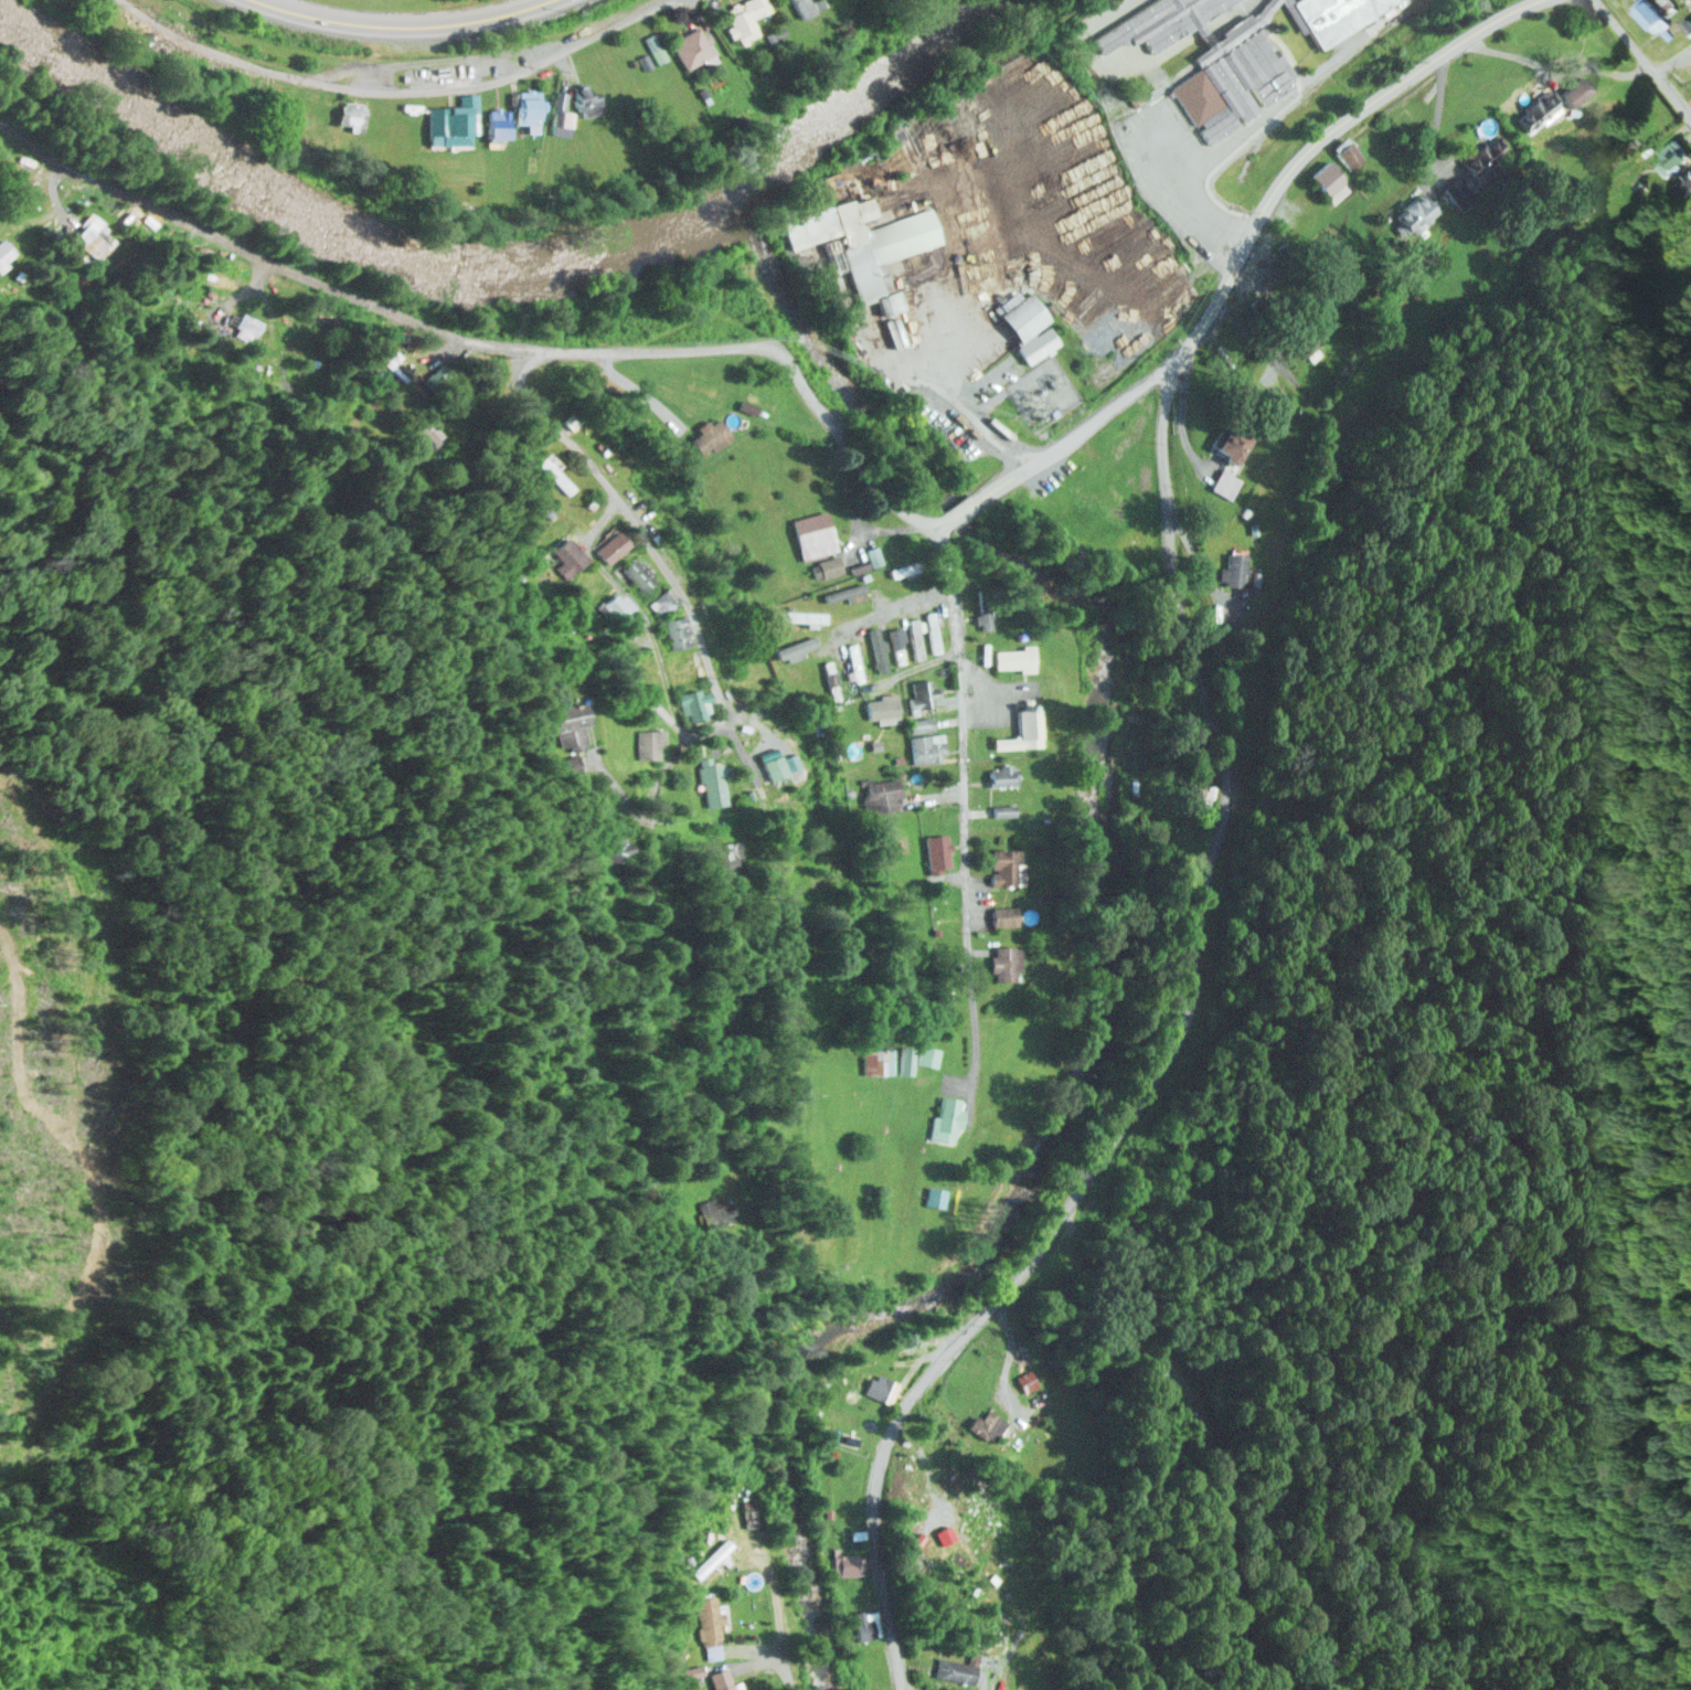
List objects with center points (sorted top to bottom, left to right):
building: (802, 7)
building: (1339, 14)
building: (1649, 15)
road: (412, 17)
building: (745, 17)
road: (298, 45)
building: (655, 46)
building: (690, 47)
road: (542, 55)
road: (1672, 59)
road: (260, 61)
road: (1647, 62)
building: (1575, 92)
building: (587, 97)
building: (1543, 104)
building: (527, 108)
building: (323, 118)
building: (454, 120)
building: (563, 121)
building: (498, 123)
road: (1321, 142)
building: (1350, 153)
building: (1487, 158)
building: (1670, 158)
building: (1330, 181)
building: (1460, 191)
building: (1414, 213)
building: (865, 245)
river: (508, 278)
building: (1027, 325)
road: (1258, 333)
road: (486, 339)
building: (1308, 339)
building: (700, 383)
road: (947, 393)
building: (1131, 432)
building: (708, 435)
road: (1061, 448)
building: (560, 475)
building: (1226, 481)
building: (812, 534)
road: (655, 543)
building: (611, 546)
building: (572, 551)
building: (873, 554)
building: (829, 565)
building: (859, 565)
building: (1235, 568)
building: (904, 570)
building: (639, 572)
building: (592, 583)
building: (844, 592)
building: (663, 600)
road: (898, 606)
building: (617, 607)
building: (801, 616)
building: (678, 631)
building: (916, 637)
road: (652, 638)
building: (897, 644)
building: (797, 648)
building: (879, 648)
building: (1013, 658)
building: (855, 661)
road: (922, 666)
building: (682, 669)
building: (649, 670)
building: (831, 679)
building: (924, 694)
building: (695, 702)
building: (882, 708)
building: (922, 723)
building: (1023, 731)
building: (647, 742)
building: (928, 747)
building: (773, 766)
building: (1002, 774)
building: (713, 780)
building: (881, 791)
road: (965, 794)
building: (1002, 809)
building: (937, 852)
building: (1006, 867)
building: (1003, 915)
building: (1007, 961)
building: (929, 1055)
building: (906, 1059)
building: (879, 1060)
road: (1163, 1060)
building: (948, 1117)
building: (935, 1195)
building: (1028, 1380)
building: (881, 1385)
building: (990, 1423)
building: (752, 1516)
building: (847, 1562)
building: (865, 1623)
building: (958, 1670)
building: (724, 1680)

